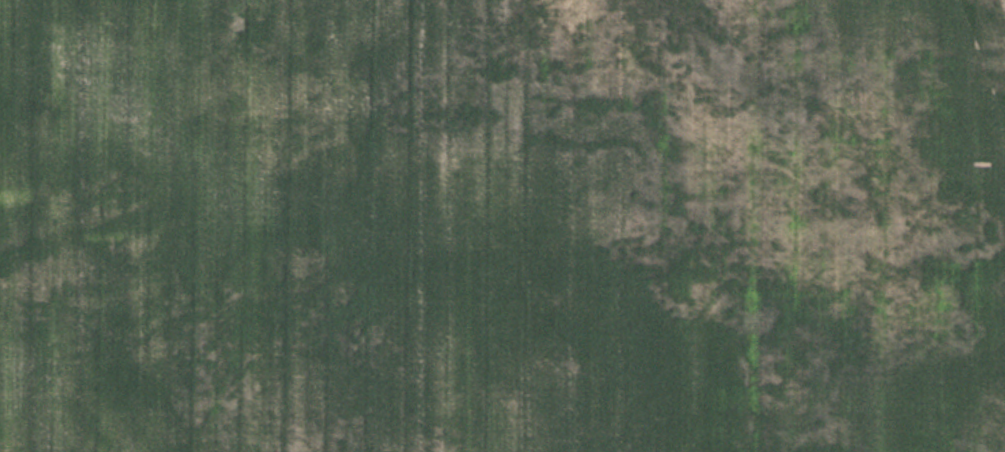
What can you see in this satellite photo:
crop: (502, 226)

